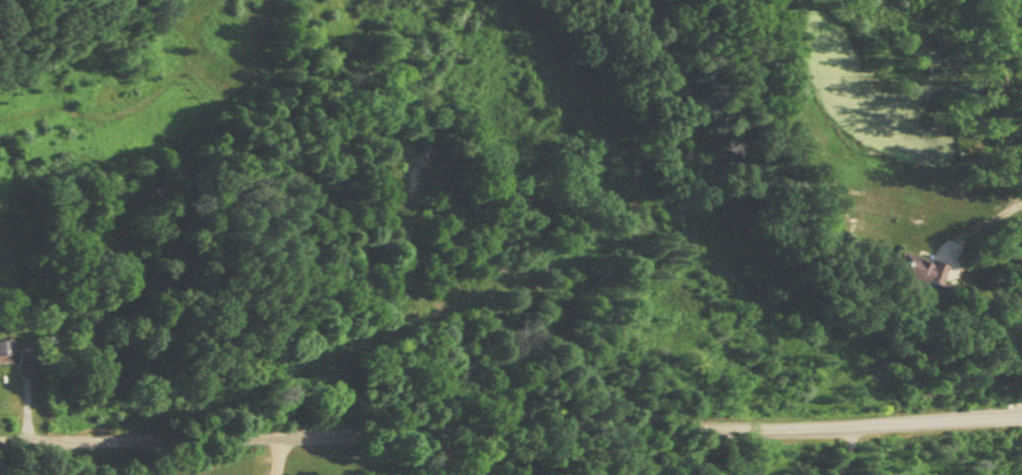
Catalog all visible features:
road: (987, 219)
building: (924, 272)
building: (5, 351)
building: (27, 355)
road: (1020, 403)
road: (511, 433)
road: (846, 449)

